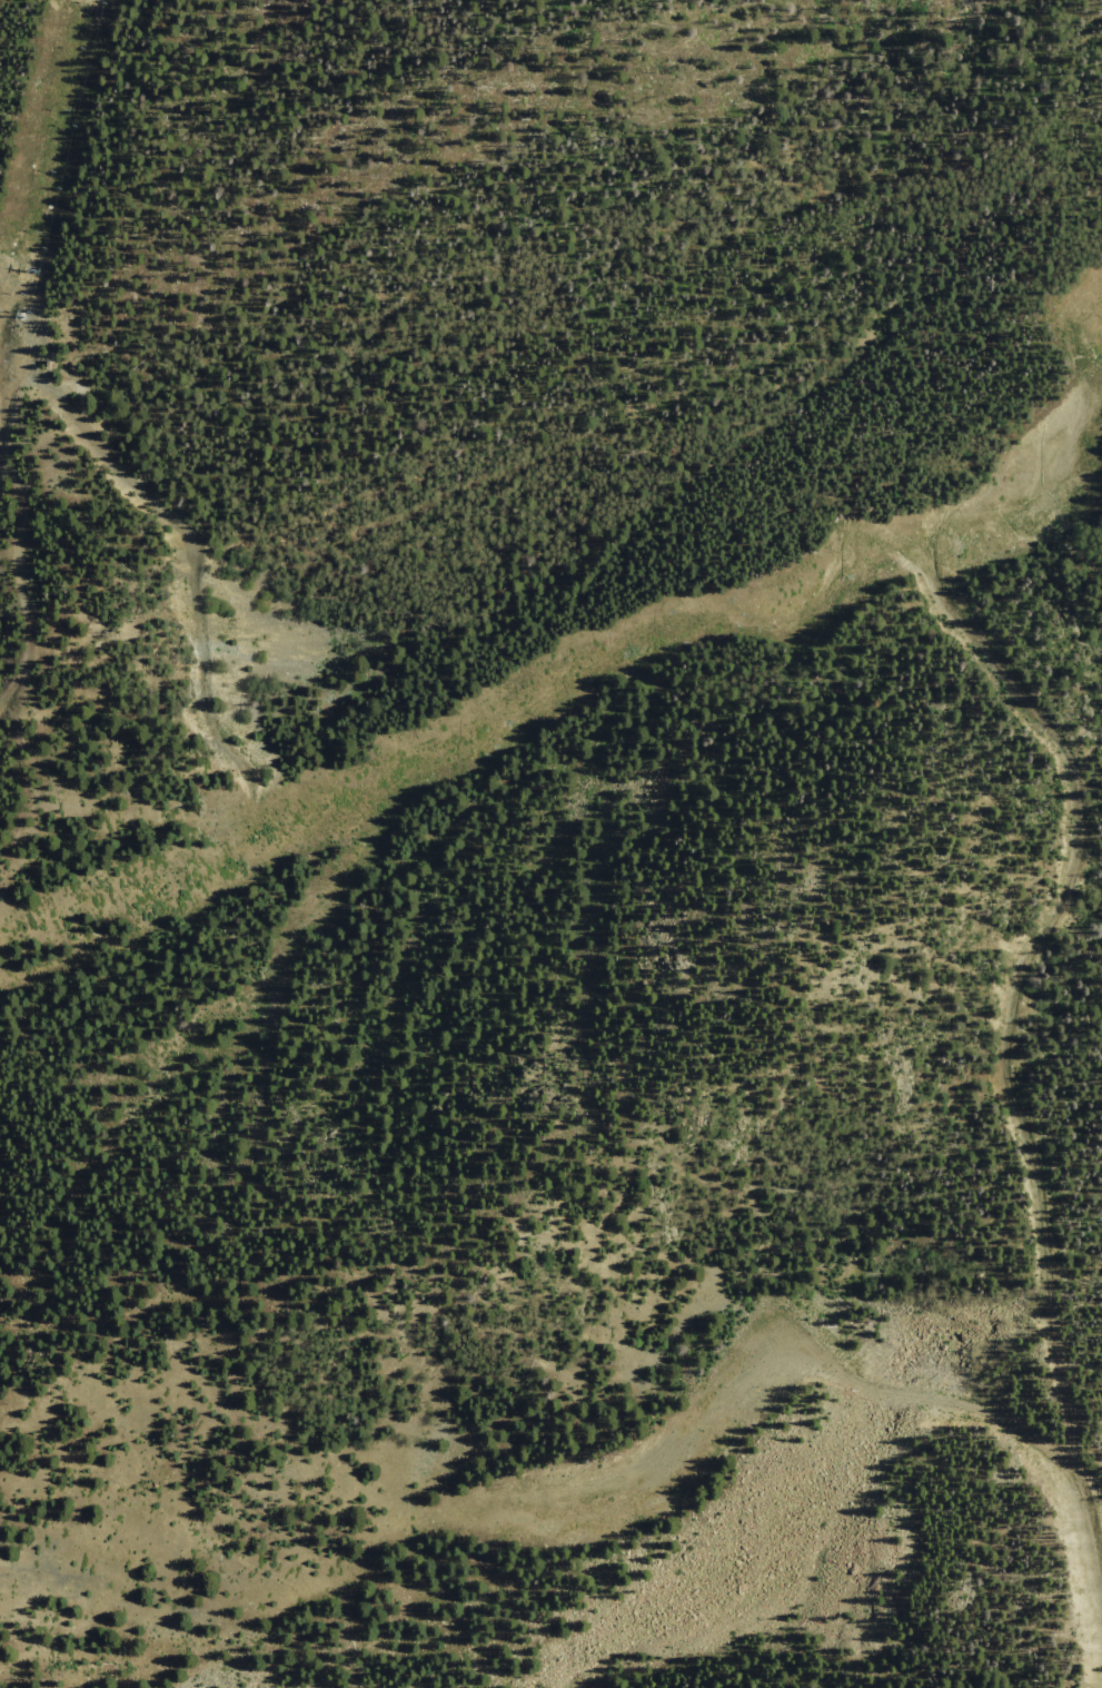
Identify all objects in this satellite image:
aerialway pylon: (39, 274)
aerialway pylon: (28, 317)
road: (89, 442)
ski resort: (550, 843)

